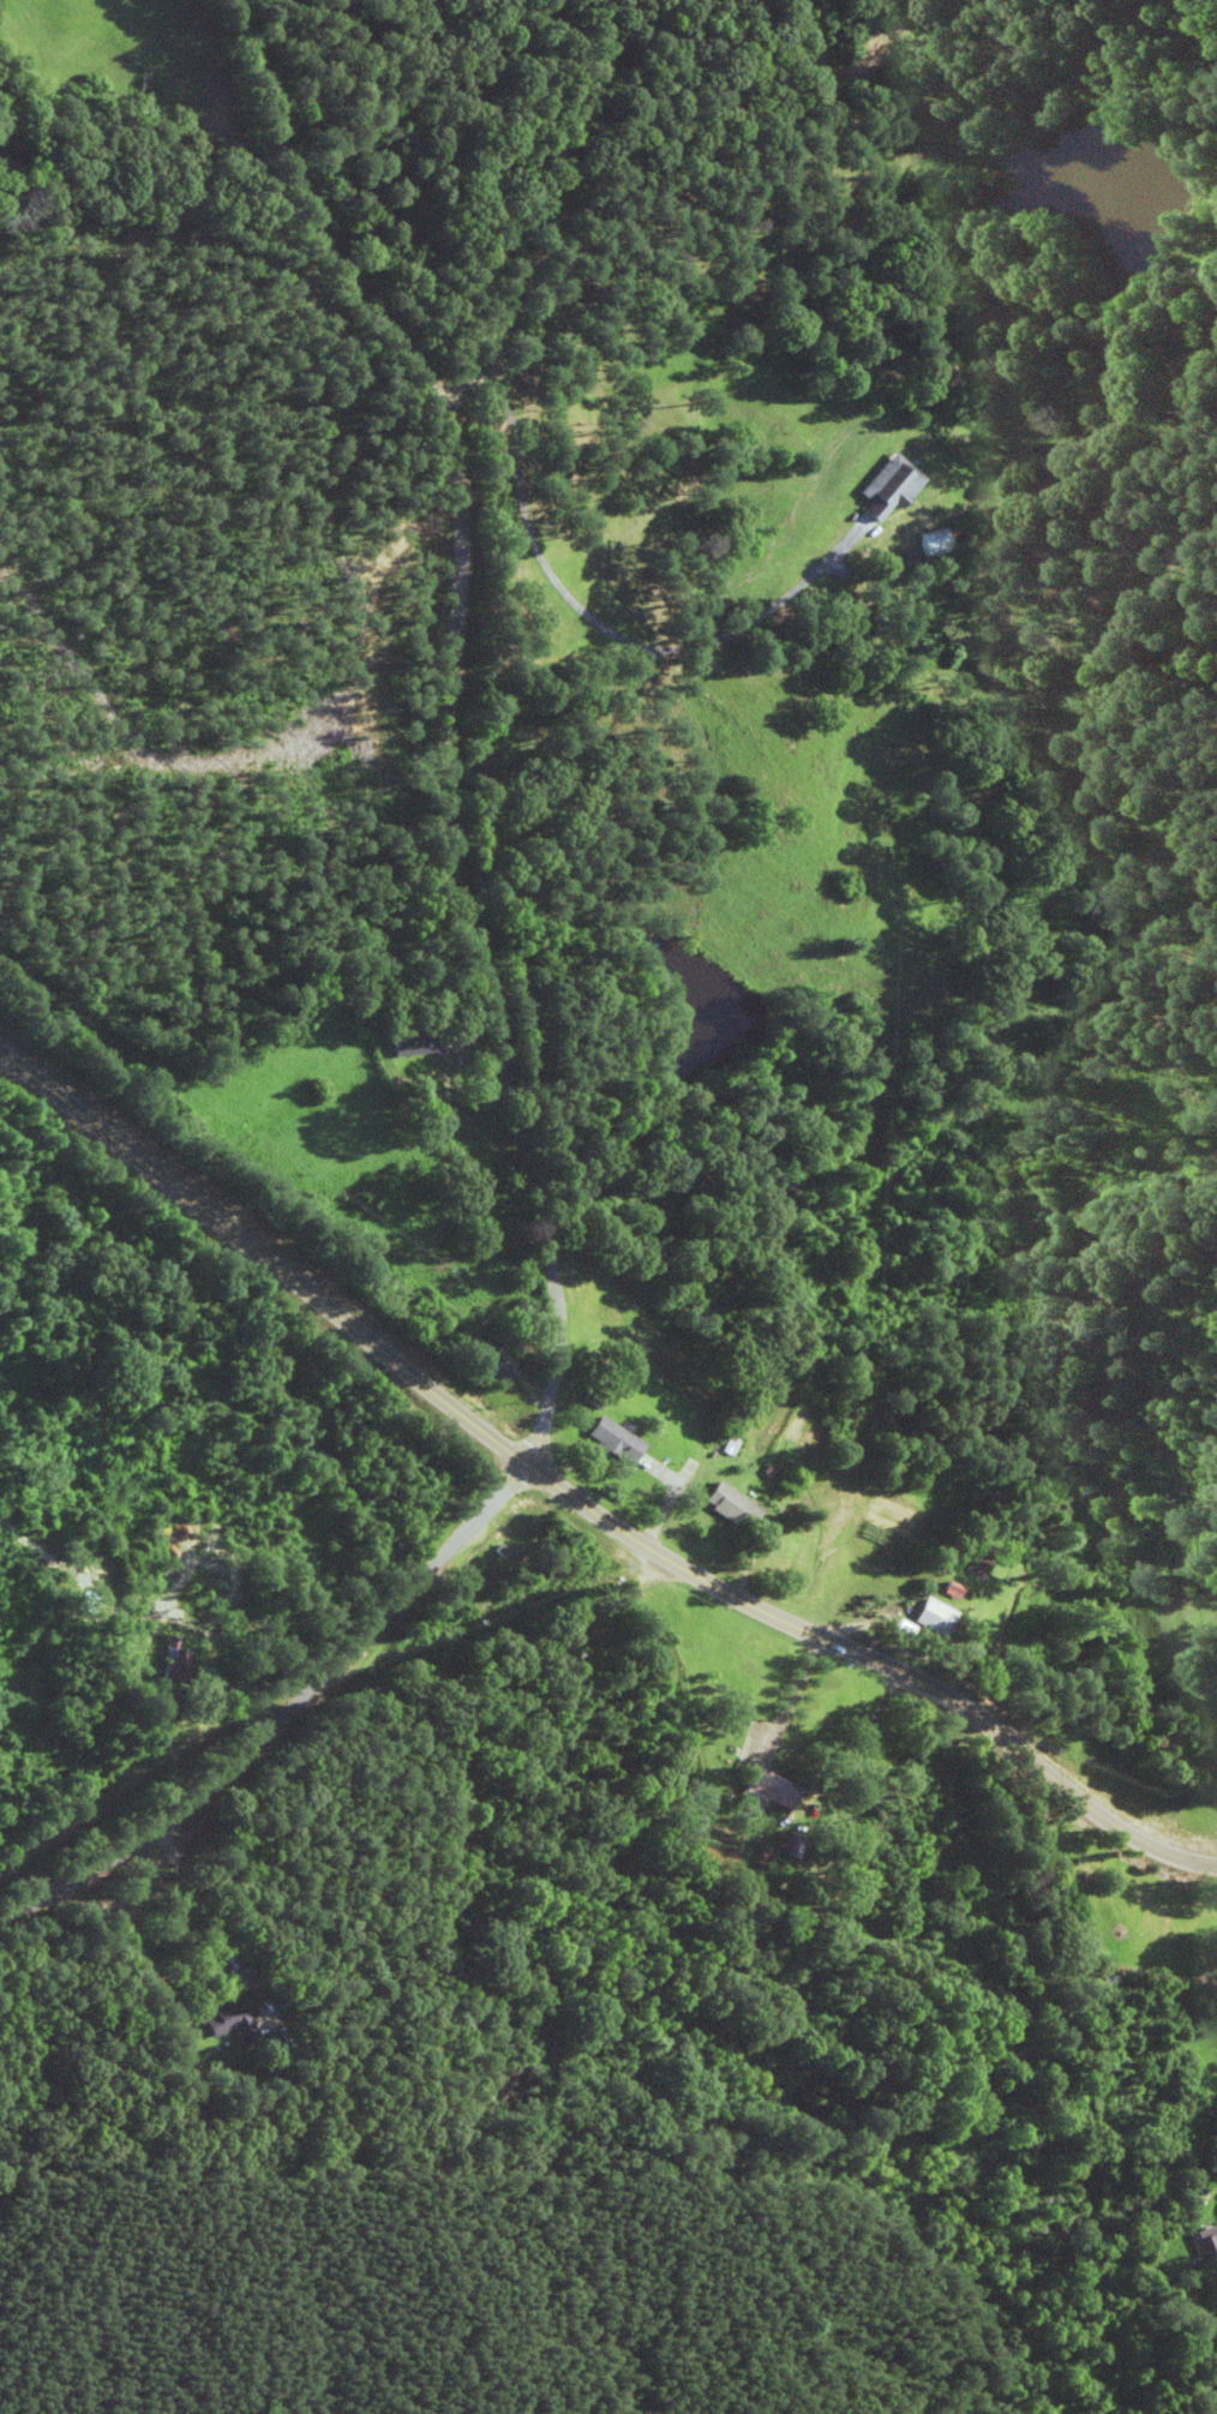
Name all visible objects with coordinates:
road: (669, 143)
building: (885, 489)
building: (933, 543)
building: (409, 1042)
road: (505, 1044)
building: (497, 1367)
building: (610, 1440)
road: (578, 1484)
building: (725, 1505)
building: (970, 1564)
building: (210, 1576)
building: (943, 1589)
building: (924, 1617)
building: (173, 1664)
building: (765, 1791)
building: (790, 1845)
building: (227, 2018)
building: (1206, 2250)

